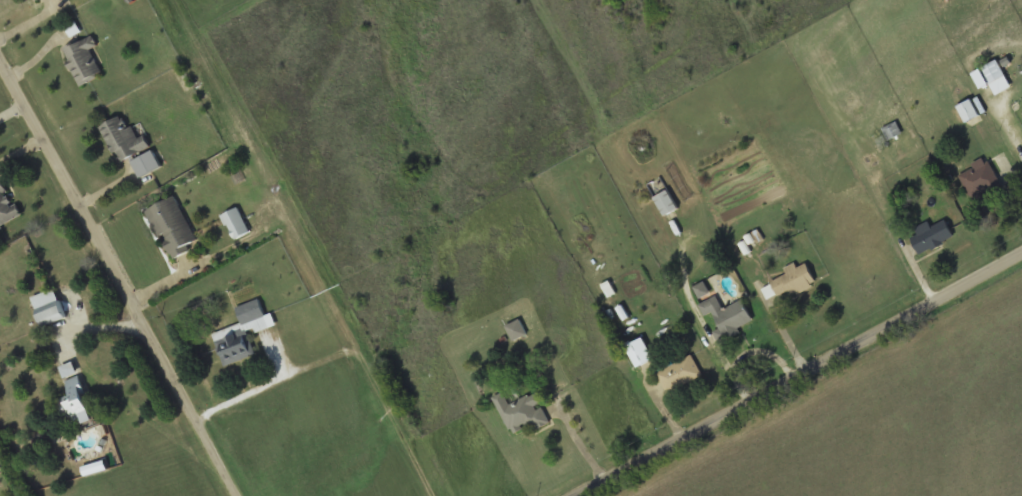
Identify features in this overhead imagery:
building: (84, 59)
building: (996, 76)
building: (968, 110)
building: (890, 131)
building: (124, 139)
building: (980, 179)
building: (667, 202)
building: (7, 204)
building: (236, 223)
building: (173, 227)
building: (931, 236)
building: (790, 281)
road: (114, 282)
building: (49, 307)
building: (727, 315)
building: (517, 330)
building: (243, 332)
building: (679, 373)
road: (813, 384)
building: (75, 401)
building: (521, 412)

